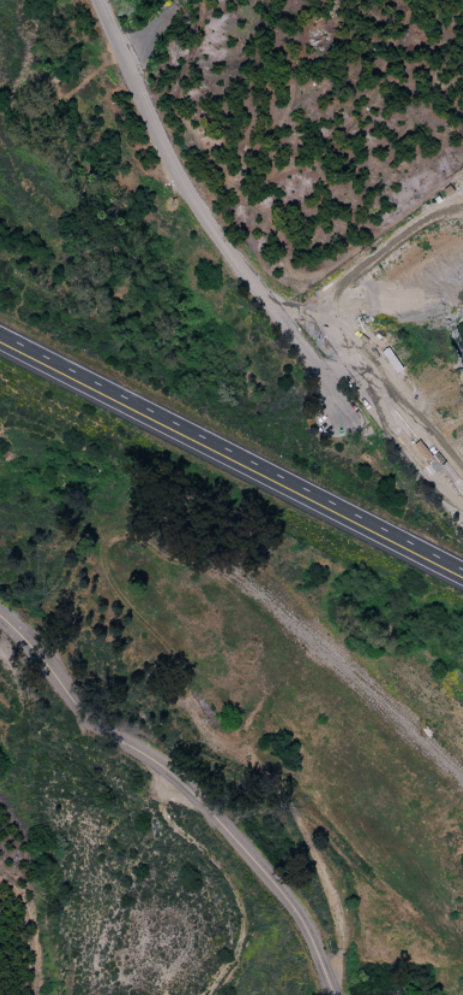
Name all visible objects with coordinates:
road: (154, 29)
road: (200, 214)
quarry: (408, 318)
road: (233, 447)
road: (185, 790)

